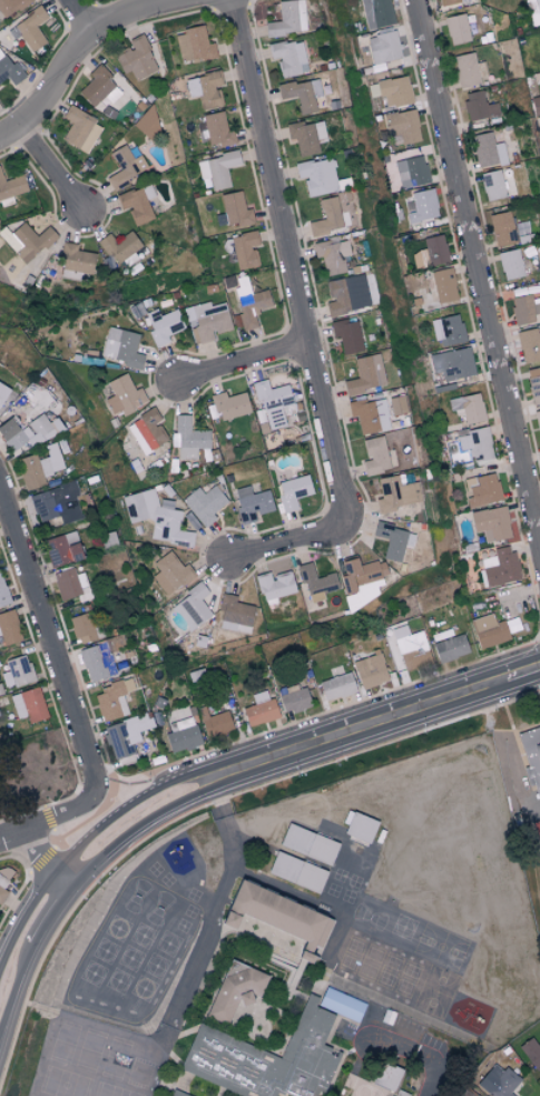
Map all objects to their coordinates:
building: (450, 1)
building: (11, 6)
building: (533, 11)
building: (375, 12)
road: (84, 16)
building: (288, 18)
building: (31, 28)
building: (456, 28)
building: (193, 43)
building: (382, 47)
road: (77, 51)
building: (288, 57)
building: (136, 58)
building: (8, 69)
building: (468, 69)
building: (97, 85)
building: (205, 88)
building: (390, 90)
building: (302, 92)
building: (536, 104)
building: (478, 105)
building: (402, 125)
building: (80, 129)
building: (215, 129)
building: (307, 135)
building: (488, 149)
building: (125, 165)
building: (217, 168)
road: (52, 169)
building: (411, 172)
building: (492, 184)
building: (11, 188)
building: (135, 204)
building: (422, 205)
building: (233, 209)
building: (326, 217)
building: (502, 228)
building: (26, 239)
building: (121, 247)
building: (244, 248)
building: (434, 249)
building: (332, 254)
building: (76, 258)
road: (291, 258)
building: (510, 264)
road: (478, 270)
building: (442, 284)
building: (342, 295)
building: (249, 302)
building: (524, 307)
building: (208, 321)
building: (163, 325)
building: (448, 329)
building: (347, 335)
building: (529, 344)
building: (121, 346)
building: (454, 363)
road: (245, 365)
building: (365, 374)
building: (533, 384)
building: (2, 392)
building: (124, 394)
building: (274, 403)
building: (229, 404)
building: (467, 407)
building: (370, 414)
building: (538, 421)
building: (28, 431)
building: (147, 431)
building: (189, 438)
building: (475, 443)
building: (375, 456)
building: (39, 466)
building: (482, 490)
building: (292, 491)
building: (396, 493)
building: (57, 502)
building: (251, 502)
building: (204, 503)
building: (157, 517)
building: (491, 523)
building: (393, 540)
road: (292, 546)
building: (61, 549)
building: (499, 567)
building: (170, 573)
building: (362, 581)
building: (315, 583)
building: (274, 586)
building: (3, 593)
building: (193, 607)
building: (235, 615)
building: (81, 626)
building: (9, 627)
building: (488, 629)
building: (442, 634)
road: (49, 647)
building: (406, 647)
building: (450, 647)
building: (96, 662)
building: (17, 671)
building: (370, 671)
building: (337, 685)
building: (293, 698)
building: (111, 699)
building: (28, 704)
building: (259, 708)
building: (214, 721)
building: (180, 730)
road: (321, 740)
building: (120, 742)
building: (532, 755)
park: (521, 783)
road: (131, 790)
road: (49, 818)
road: (224, 820)
building: (359, 826)
park: (537, 830)
road: (40, 859)
building: (502, 862)
building: (318, 865)
building: (3, 881)
road: (41, 913)
building: (278, 916)
building: (234, 990)
building: (406, 1026)
building: (217, 1041)
building: (109, 1050)
building: (532, 1051)
road: (414, 1053)
building: (88, 1082)
building: (499, 1082)
building: (382, 1083)
building: (468, 1093)
building: (179, 1094)

